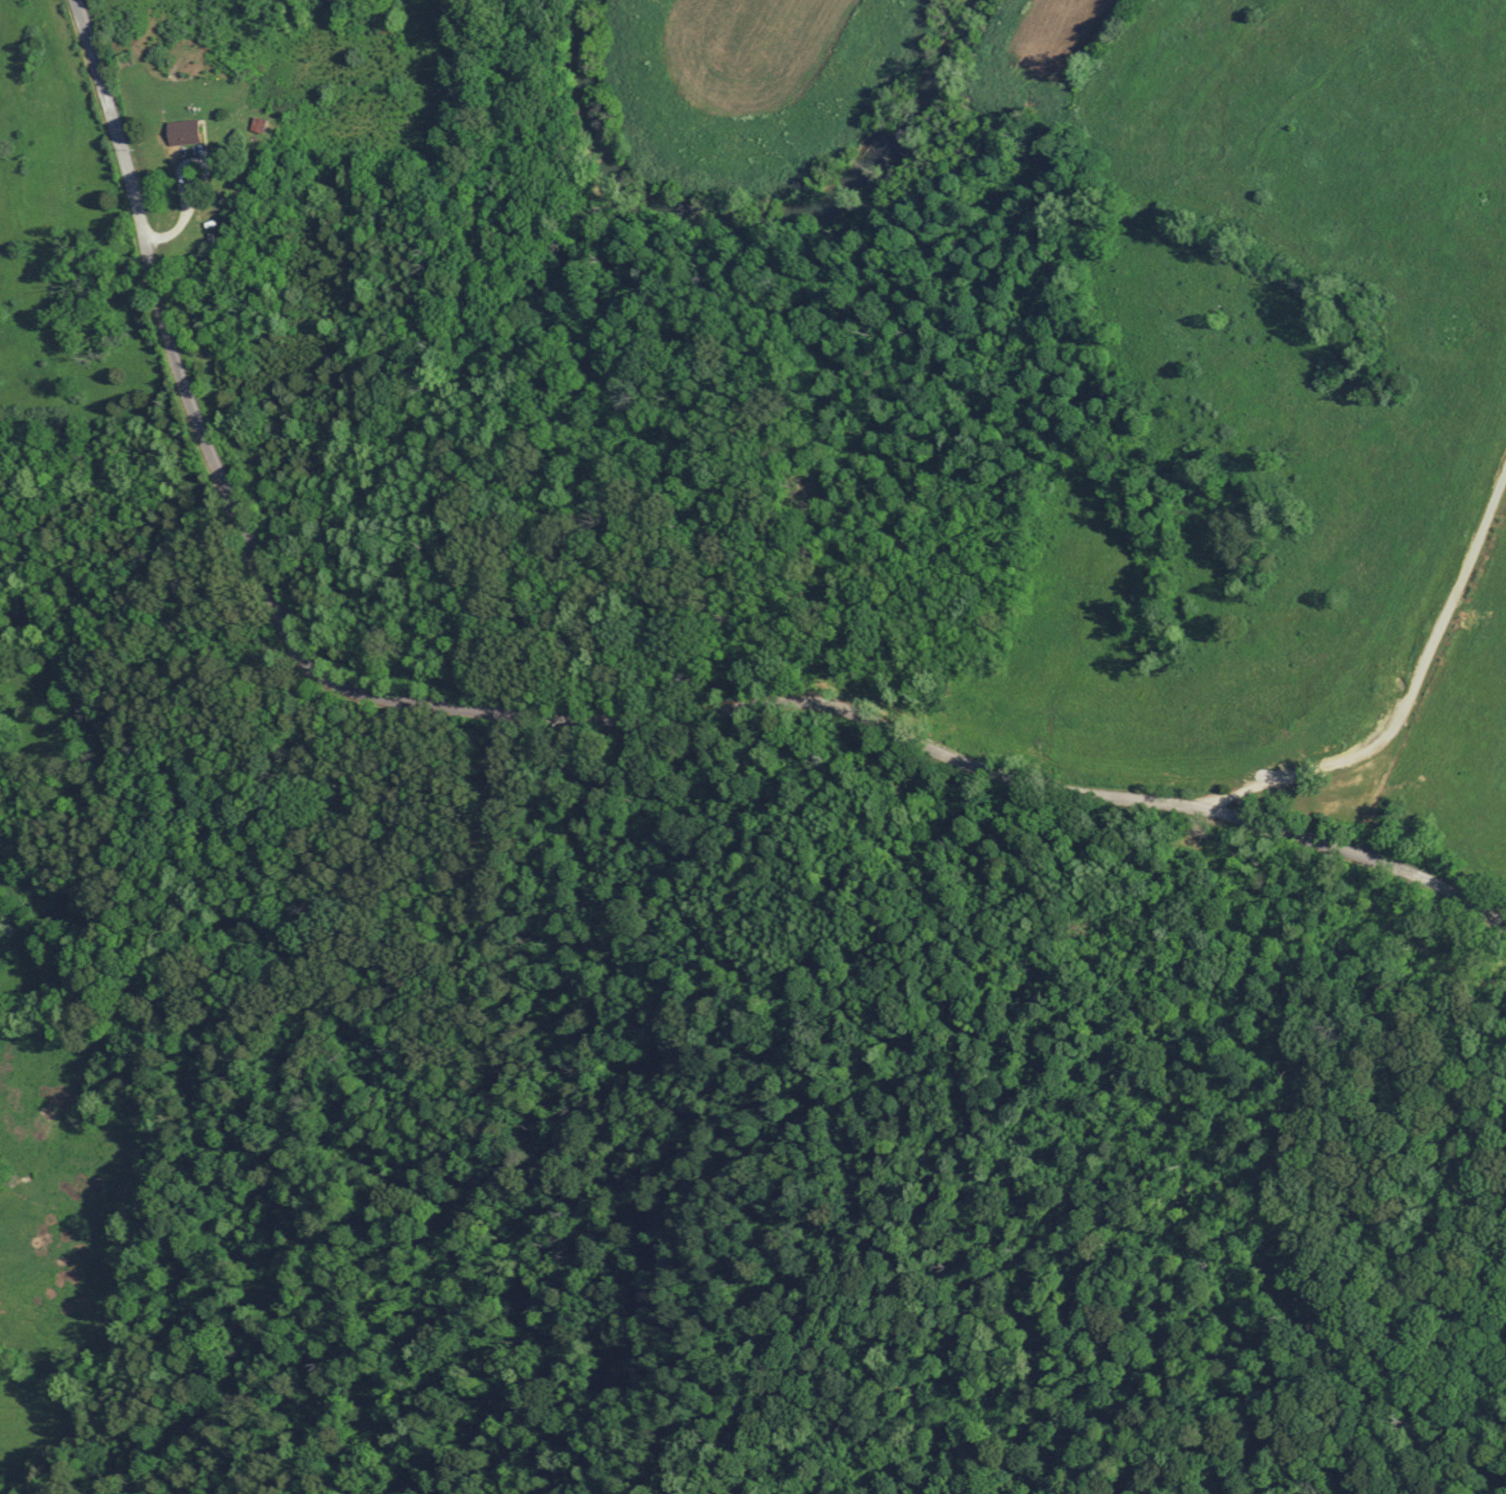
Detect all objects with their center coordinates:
building: (183, 132)
river: (751, 241)
road: (201, 427)
road: (1002, 772)

